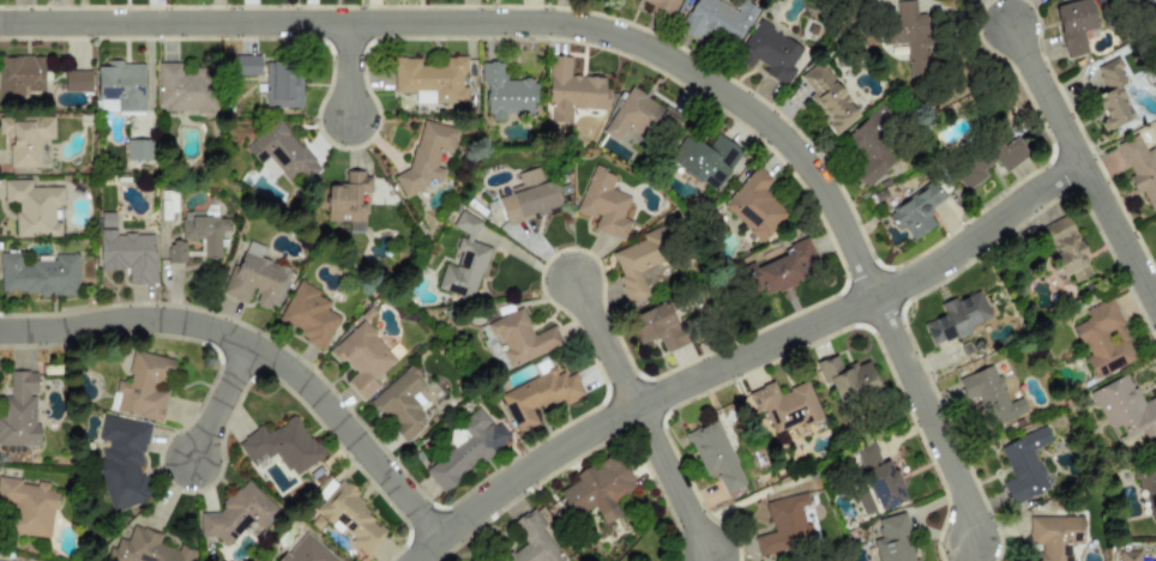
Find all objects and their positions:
building: (862, 0)
building: (661, 5)
building: (717, 19)
building: (1073, 25)
building: (909, 38)
road: (630, 42)
building: (769, 53)
building: (246, 66)
road: (347, 71)
building: (20, 76)
building: (431, 80)
building: (76, 82)
building: (121, 85)
building: (282, 85)
building: (185, 89)
building: (571, 91)
building: (505, 92)
building: (1113, 93)
building: (827, 98)
building: (25, 138)
building: (137, 151)
building: (281, 153)
building: (867, 153)
street lamp: (1095, 153)
building: (426, 157)
building: (704, 159)
building: (986, 161)
road: (1080, 168)
building: (1140, 169)
building: (528, 198)
building: (167, 199)
building: (348, 199)
building: (603, 205)
building: (753, 206)
building: (31, 207)
building: (915, 211)
building: (1155, 219)
building: (108, 222)
building: (203, 230)
building: (1065, 249)
building: (174, 253)
building: (127, 255)
building: (463, 261)
building: (636, 265)
building: (781, 269)
building: (37, 276)
building: (255, 278)
building: (307, 315)
building: (956, 318)
building: (656, 327)
building: (520, 338)
building: (1103, 339)
road: (602, 344)
road: (257, 350)
road: (743, 356)
building: (361, 358)
building: (847, 380)
building: (142, 387)
building: (989, 396)
building: (537, 398)
road: (218, 403)
building: (402, 403)
building: (784, 405)
building: (1125, 410)
building: (19, 412)
building: (281, 446)
building: (460, 451)
building: (714, 456)
building: (121, 462)
building: (1024, 465)
road: (670, 481)
building: (877, 481)
building: (1146, 484)
building: (596, 489)
building: (29, 507)
building: (236, 514)
building: (349, 517)
building: (784, 525)
building: (1054, 536)
building: (892, 539)
building: (534, 541)
building: (145, 548)
building: (306, 550)
building: (1128, 556)

